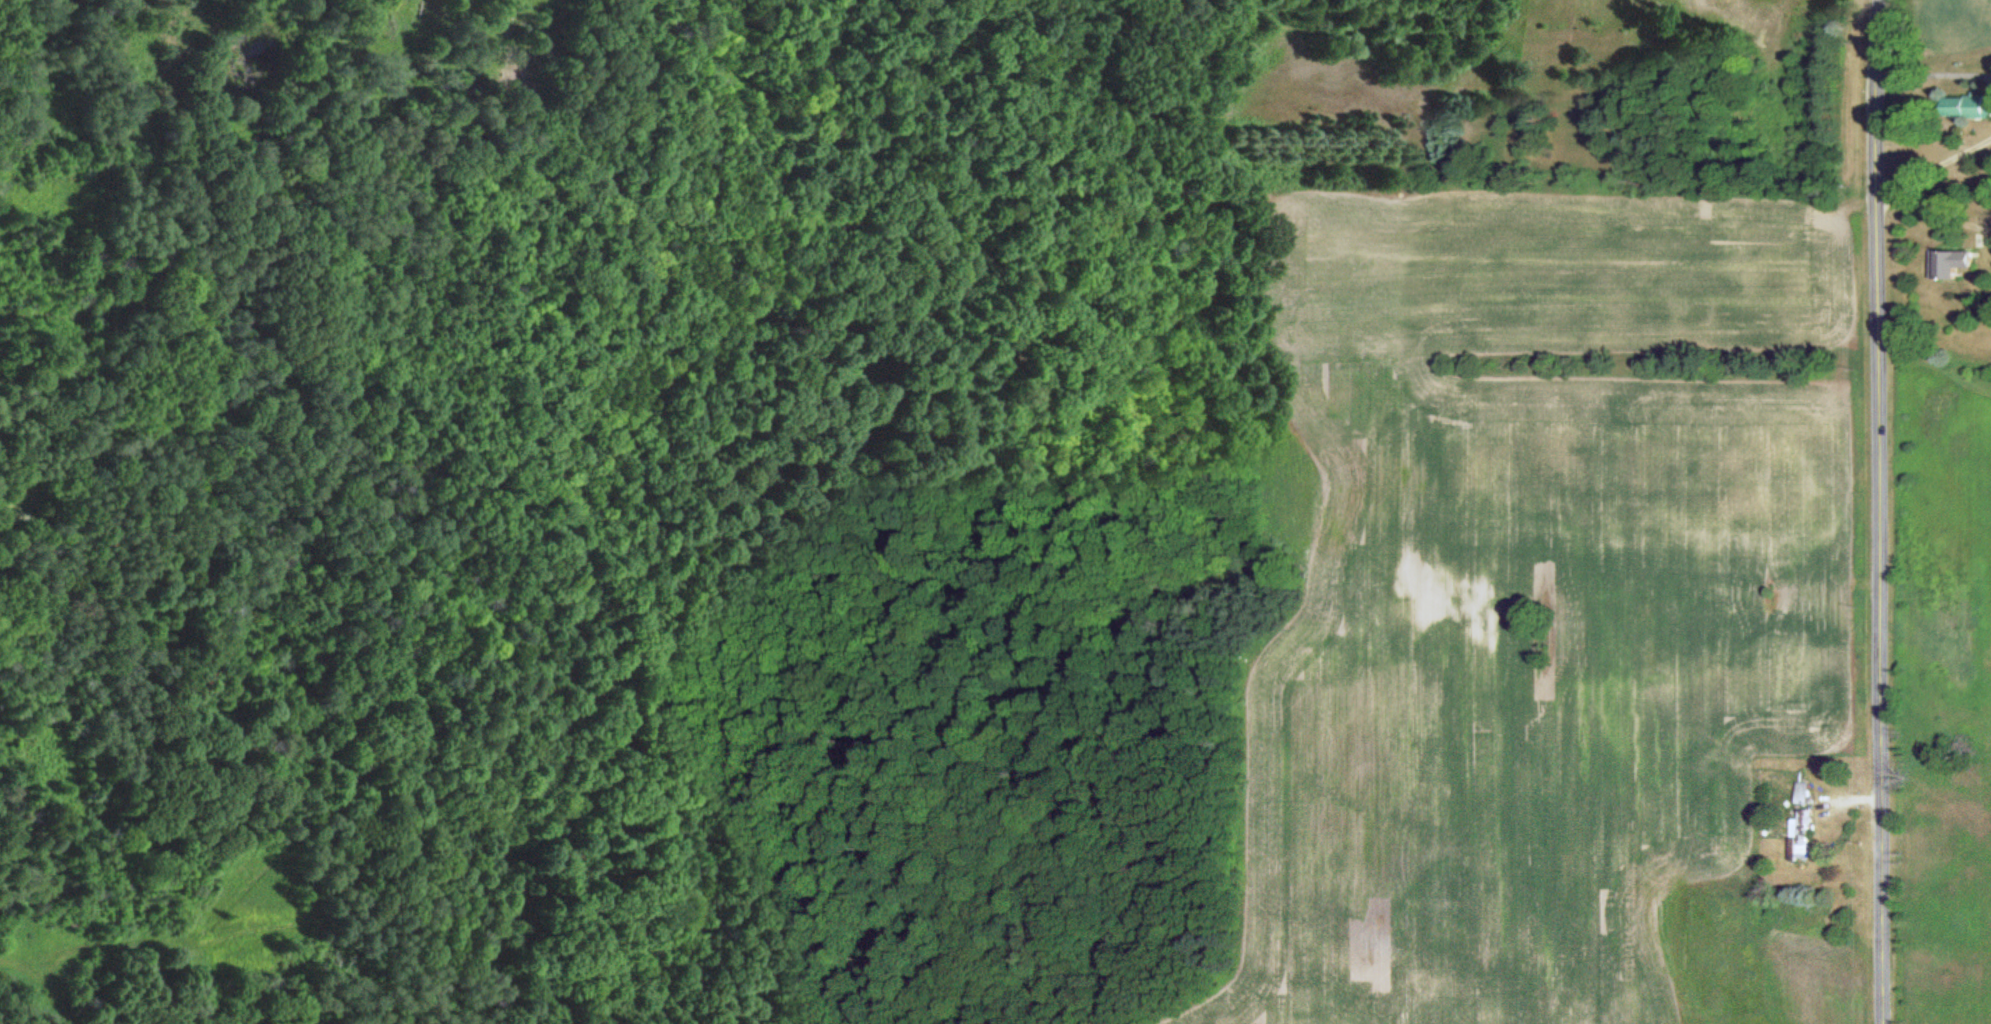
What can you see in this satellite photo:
building: (1968, 107)
building: (1949, 264)
road: (1884, 512)
building: (1801, 792)
building: (1802, 833)

